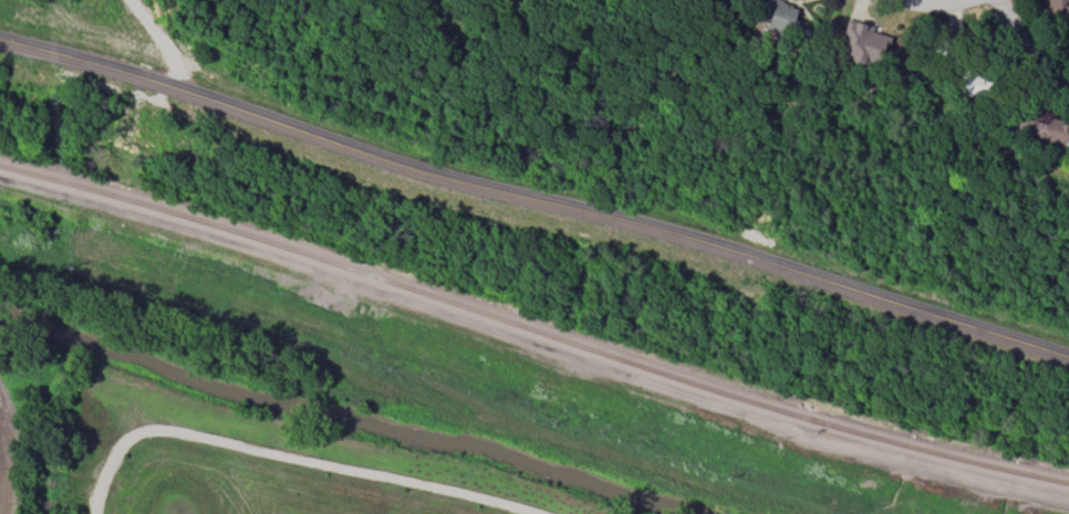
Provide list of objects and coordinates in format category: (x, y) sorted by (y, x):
building: (1058, 8)
building: (779, 19)
road: (159, 42)
building: (860, 42)
road: (1028, 44)
building: (968, 81)
building: (1039, 127)
road: (534, 196)
railway: (532, 327)
road: (287, 454)
park: (273, 461)

